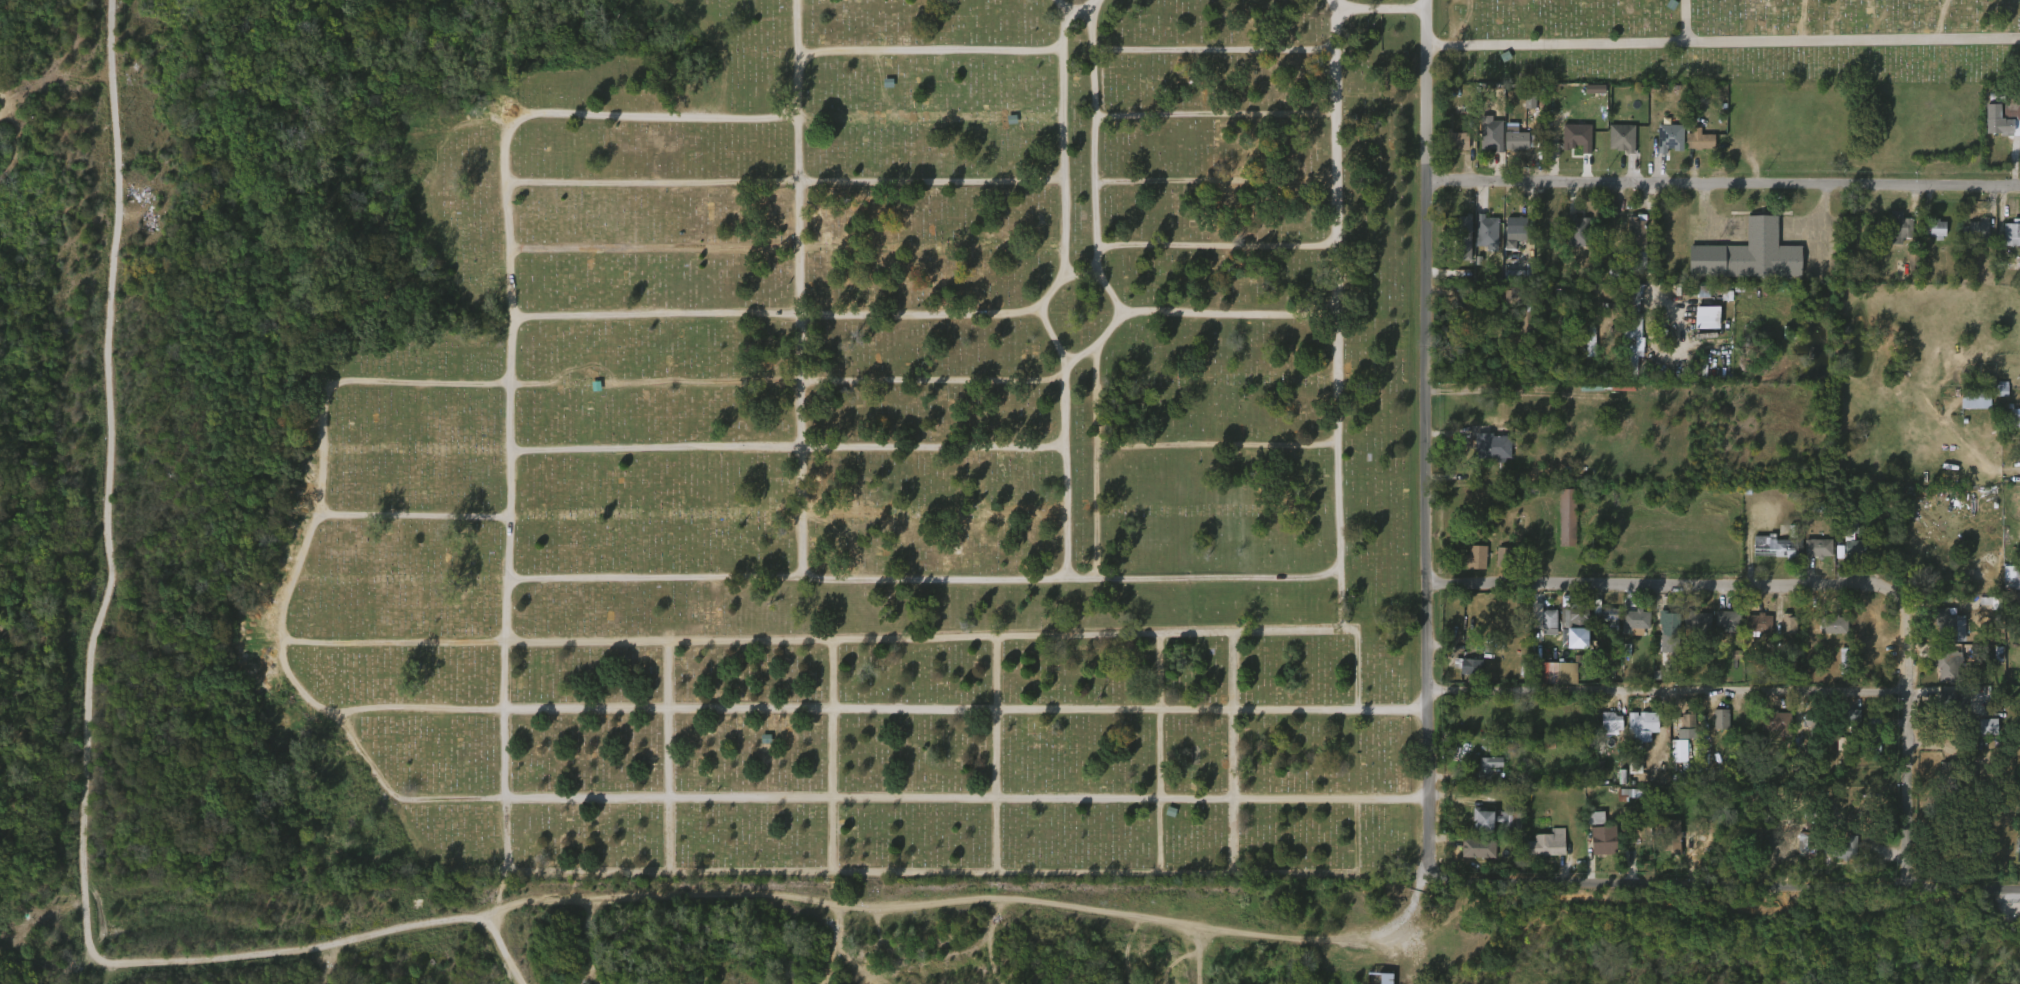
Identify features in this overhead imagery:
building: (1527, 99)
building: (1523, 110)
building: (1995, 111)
building: (1492, 135)
building: (1669, 137)
building: (1623, 138)
building: (1697, 139)
building: (1456, 141)
building: (1519, 141)
building: (1485, 144)
building: (1615, 146)
building: (1512, 149)
building: (1695, 149)
road: (1726, 189)
building: (1514, 225)
building: (1934, 227)
building: (1896, 228)
building: (1578, 230)
building: (1978, 230)
building: (1486, 232)
building: (2011, 233)
building: (1930, 238)
building: (1509, 240)
building: (1570, 240)
building: (1635, 242)
building: (1457, 245)
building: (1750, 253)
building: (1526, 302)
building: (1631, 320)
building: (1700, 325)
road: (1648, 327)
building: (1584, 350)
building: (1995, 396)
building: (1977, 397)
building: (1968, 409)
building: (2014, 418)
park: (802, 421)
road: (1431, 438)
building: (1491, 444)
building: (1486, 455)
building: (1567, 517)
building: (1852, 540)
building: (1775, 547)
building: (1819, 547)
building: (1847, 554)
building: (1811, 555)
building: (1475, 556)
building: (1469, 565)
building: (2012, 577)
road: (1651, 585)
building: (1576, 616)
building: (1606, 616)
building: (1634, 619)
building: (1727, 620)
building: (1550, 621)
building: (1667, 622)
building: (1756, 622)
building: (1697, 623)
building: (1943, 623)
building: (1603, 624)
building: (1832, 625)
building: (1537, 627)
building: (1629, 628)
building: (1751, 630)
building: (1782, 631)
building: (1946, 666)
building: (1572, 669)
building: (1939, 675)
building: (1464, 678)
road: (1669, 704)
building: (1950, 712)
building: (1643, 720)
building: (1776, 721)
building: (1609, 722)
road: (1907, 725)
building: (1714, 727)
road: (85, 728)
building: (1605, 730)
building: (1770, 730)
building: (1636, 734)
building: (1870, 734)
building: (1981, 734)
building: (1676, 746)
road: (668, 764)
building: (1486, 768)
building: (1497, 820)
building: (1483, 827)
building: (1671, 835)
building: (1603, 841)
building: (1546, 843)
building: (1808, 843)
building: (1477, 847)
building: (1843, 848)
building: (1596, 849)
building: (1472, 856)
road: (764, 885)
road: (1721, 886)
road: (1407, 913)
road: (493, 953)
building: (1379, 978)

